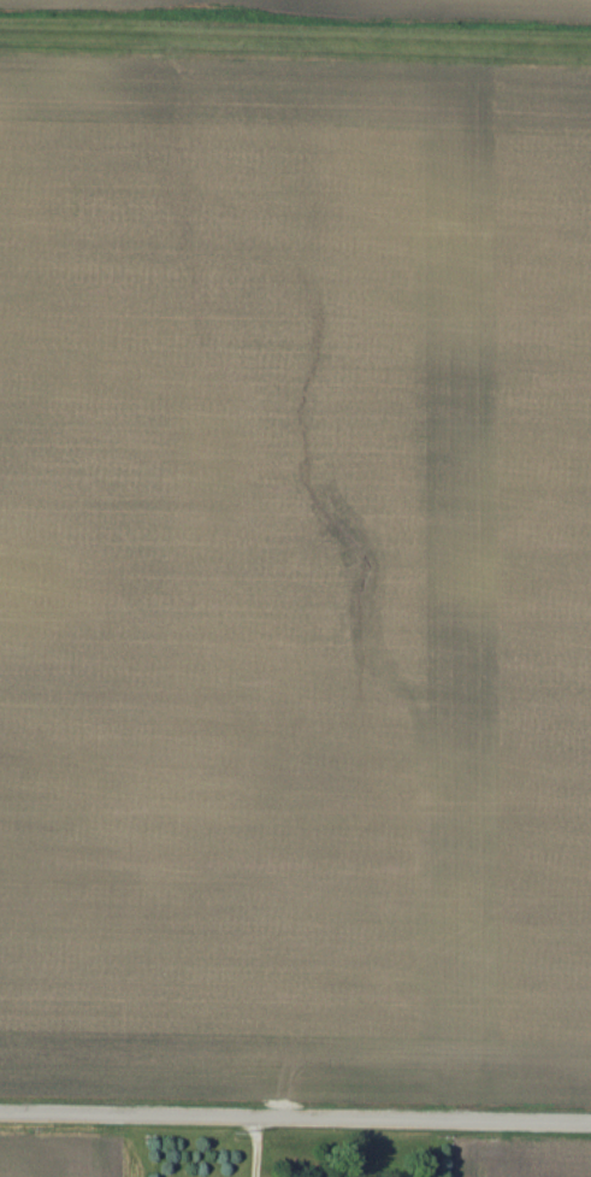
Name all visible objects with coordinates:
road: (295, 1118)
road: (256, 1147)

